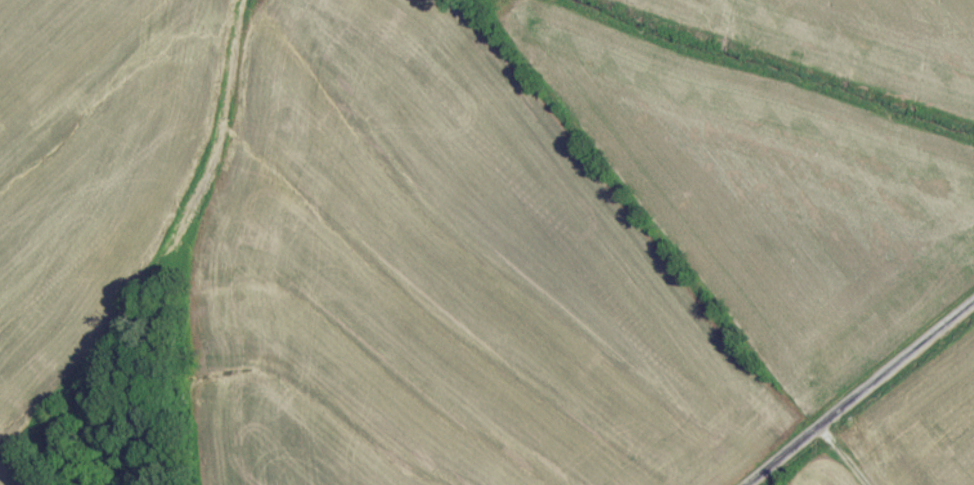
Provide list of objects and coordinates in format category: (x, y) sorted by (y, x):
road: (861, 394)

